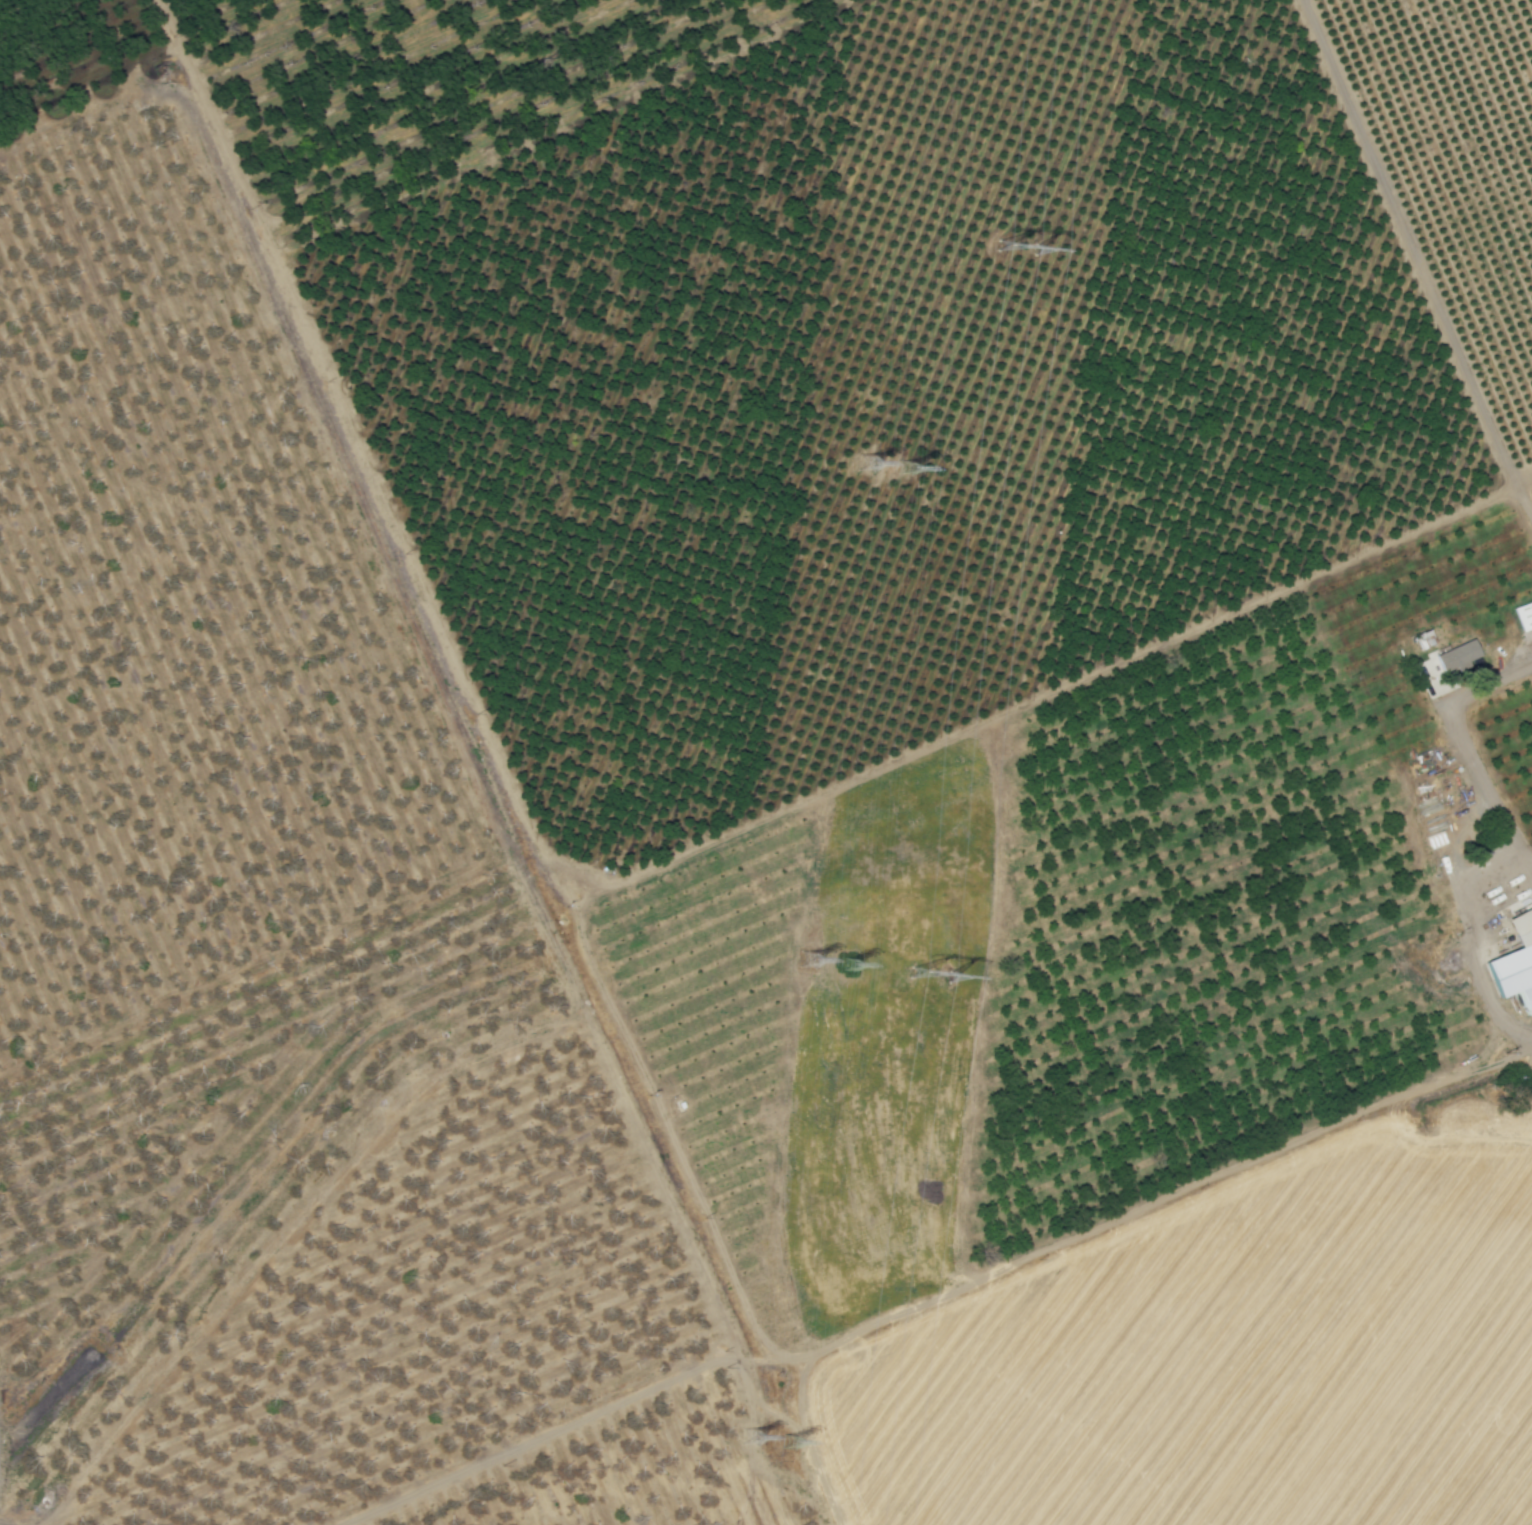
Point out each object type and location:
power tower: (1016, 249)
road: (1415, 269)
power tower: (868, 465)
power tower: (908, 471)
road: (1520, 481)
building: (1522, 614)
building: (1453, 655)
road: (1469, 752)
road: (484, 755)
power tower: (807, 962)
building: (1512, 963)
power tower: (847, 967)
power tower: (928, 976)
road: (1509, 1054)
road: (1094, 1228)
road: (294, 1229)
road: (549, 1432)
power tower: (750, 1439)
power tower: (787, 1445)

